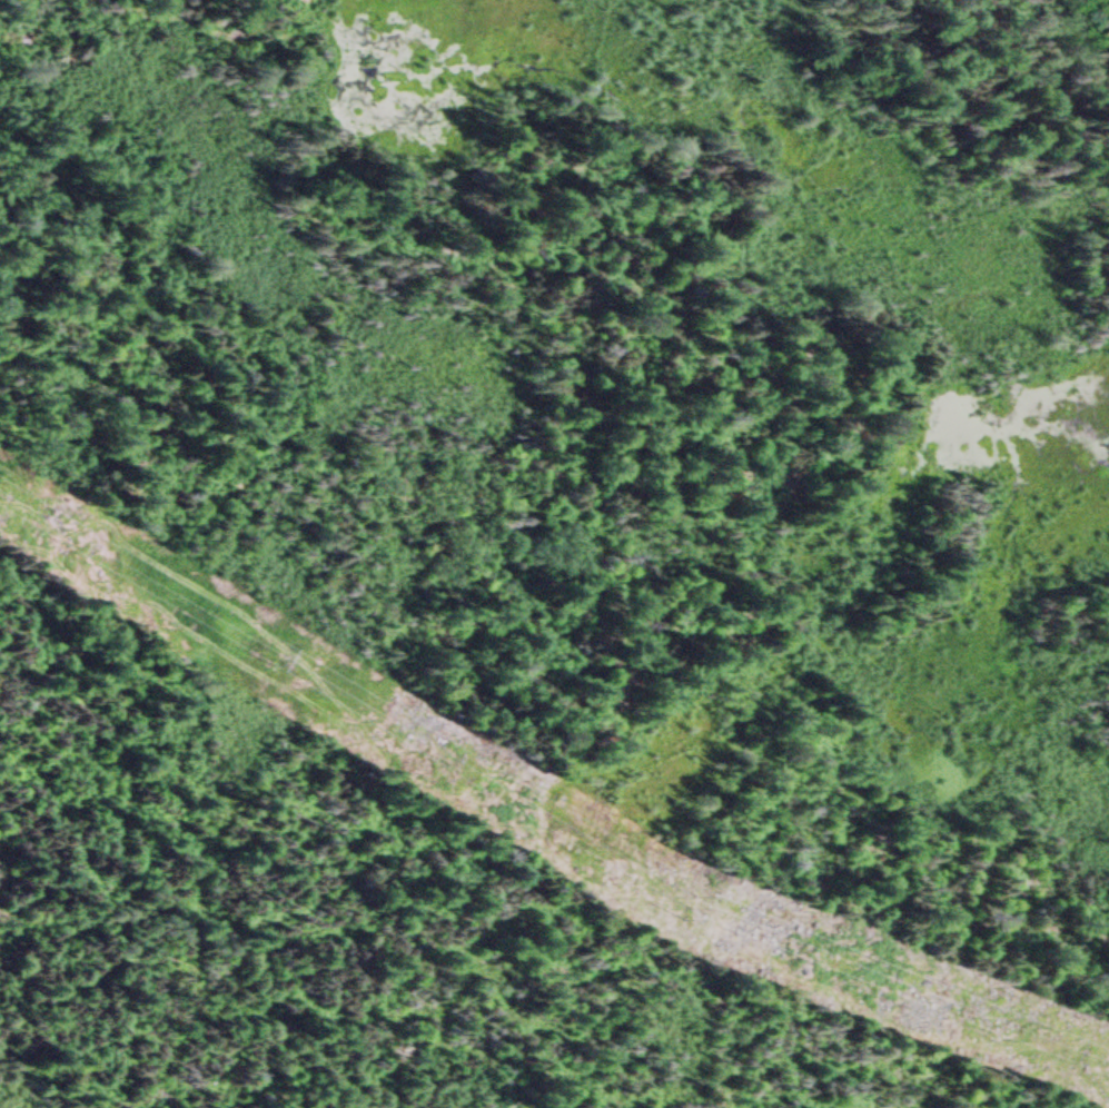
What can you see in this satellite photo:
power tower: (812, 966)

